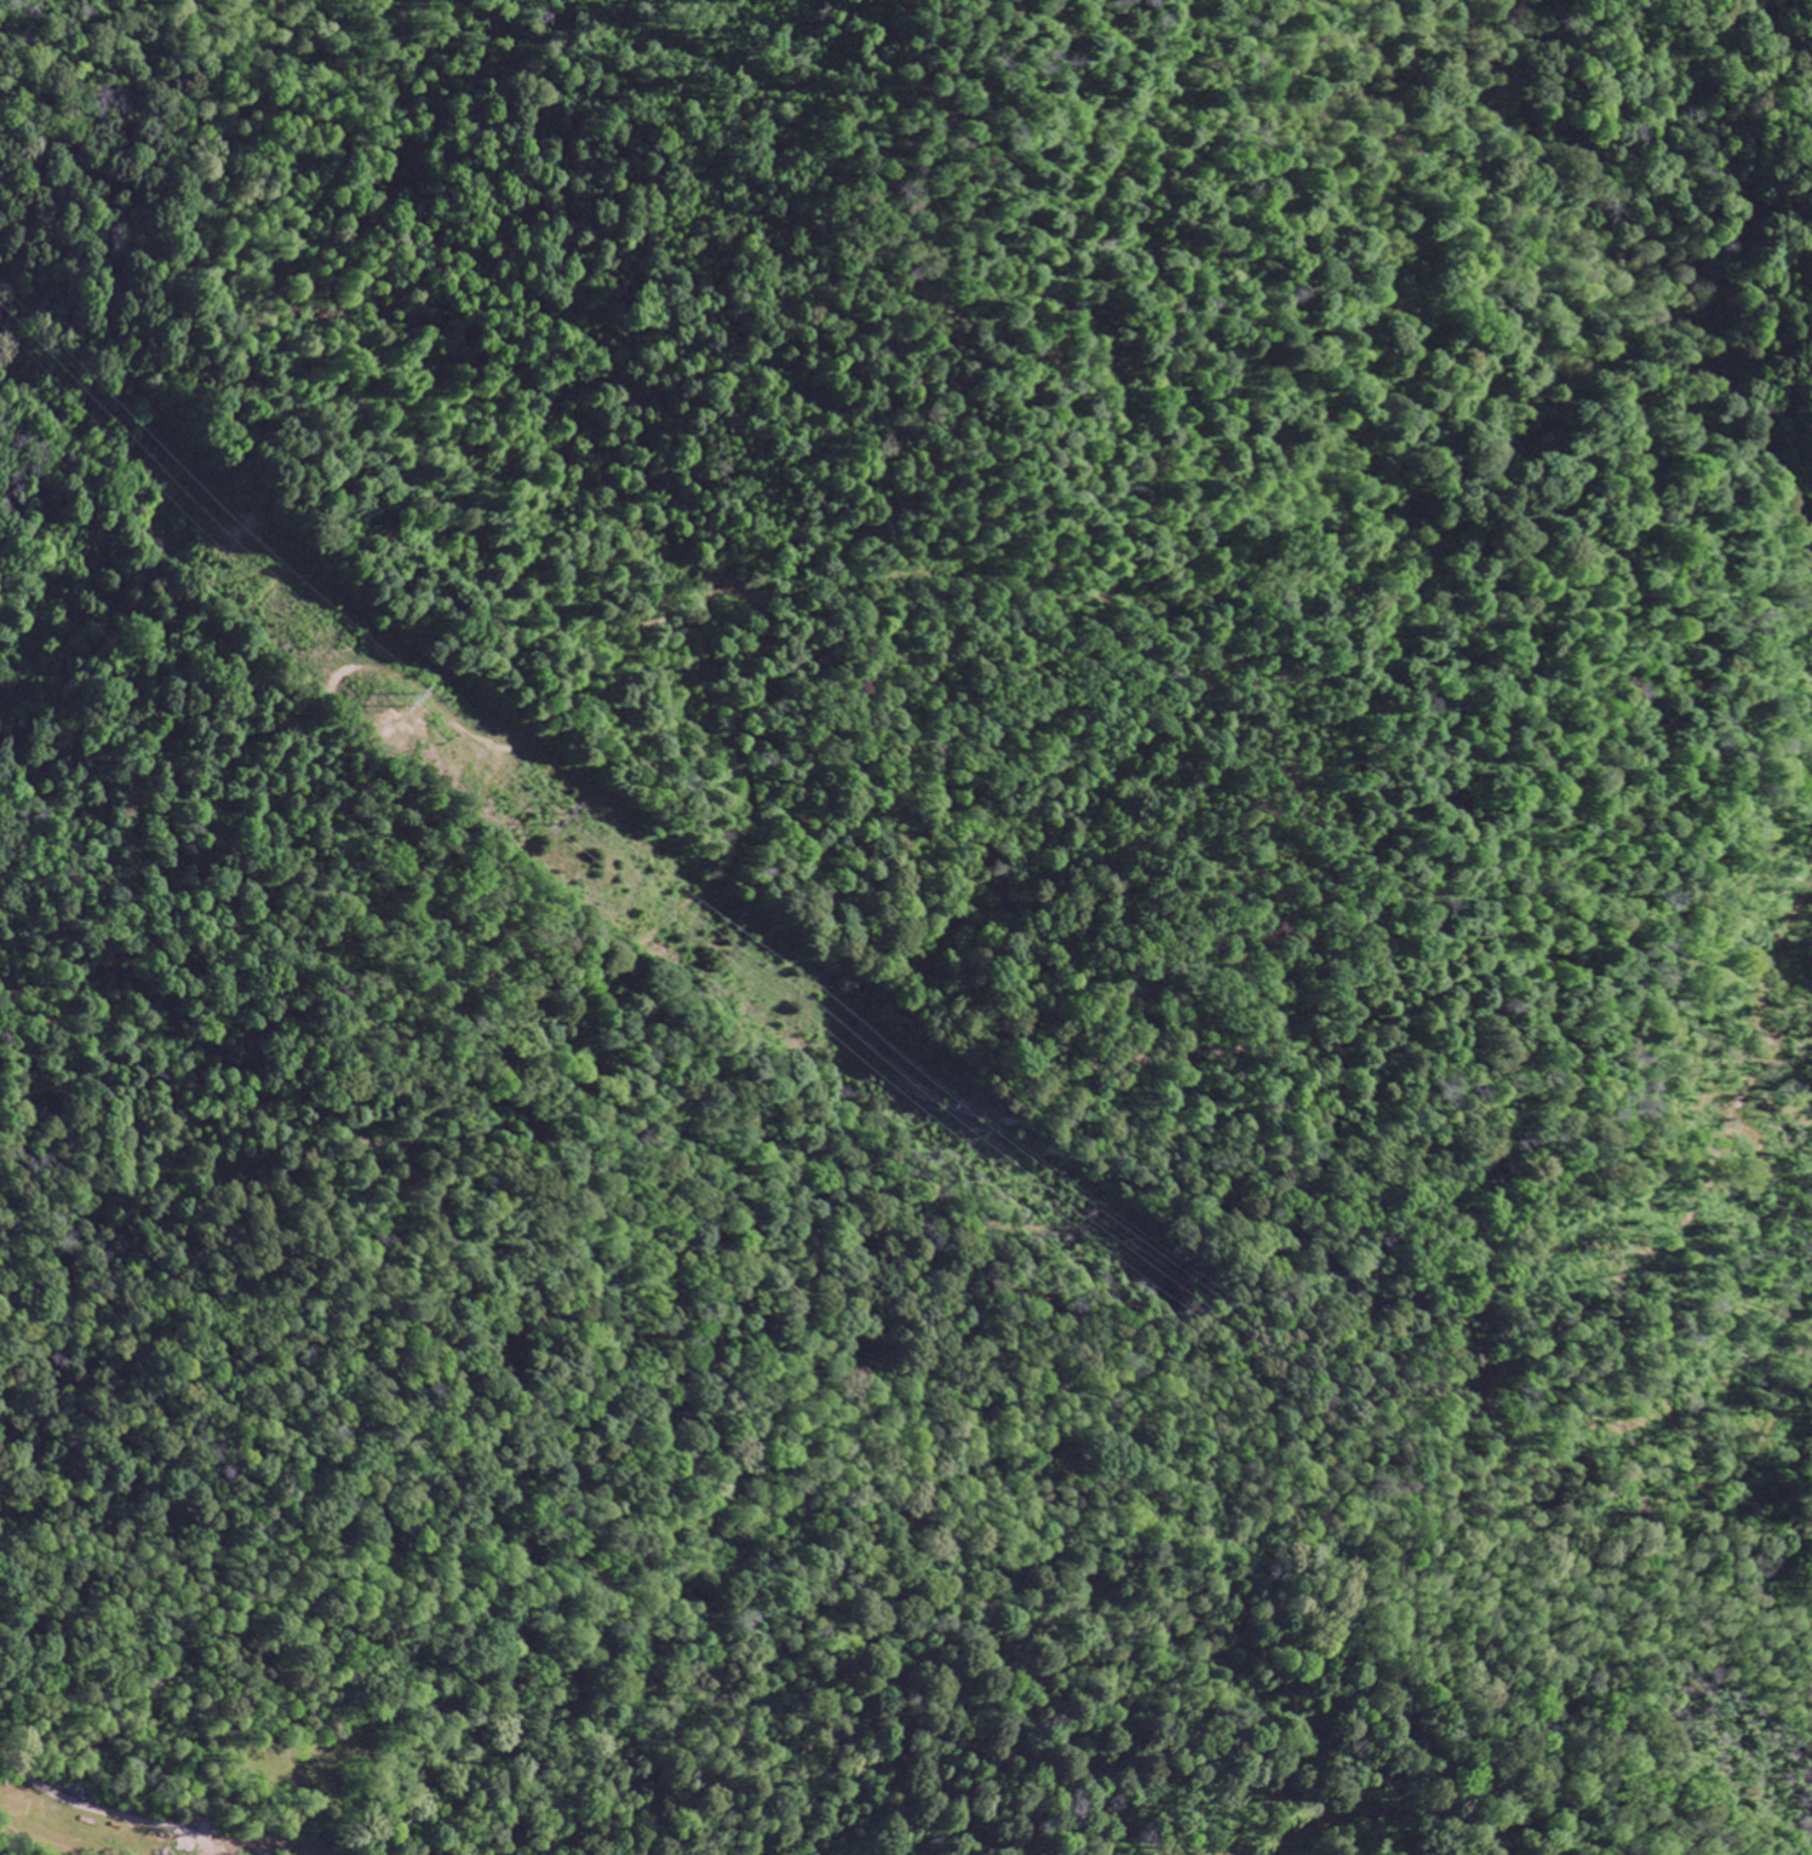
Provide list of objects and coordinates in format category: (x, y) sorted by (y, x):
power tower: (397, 687)
power tower: (566, 827)

